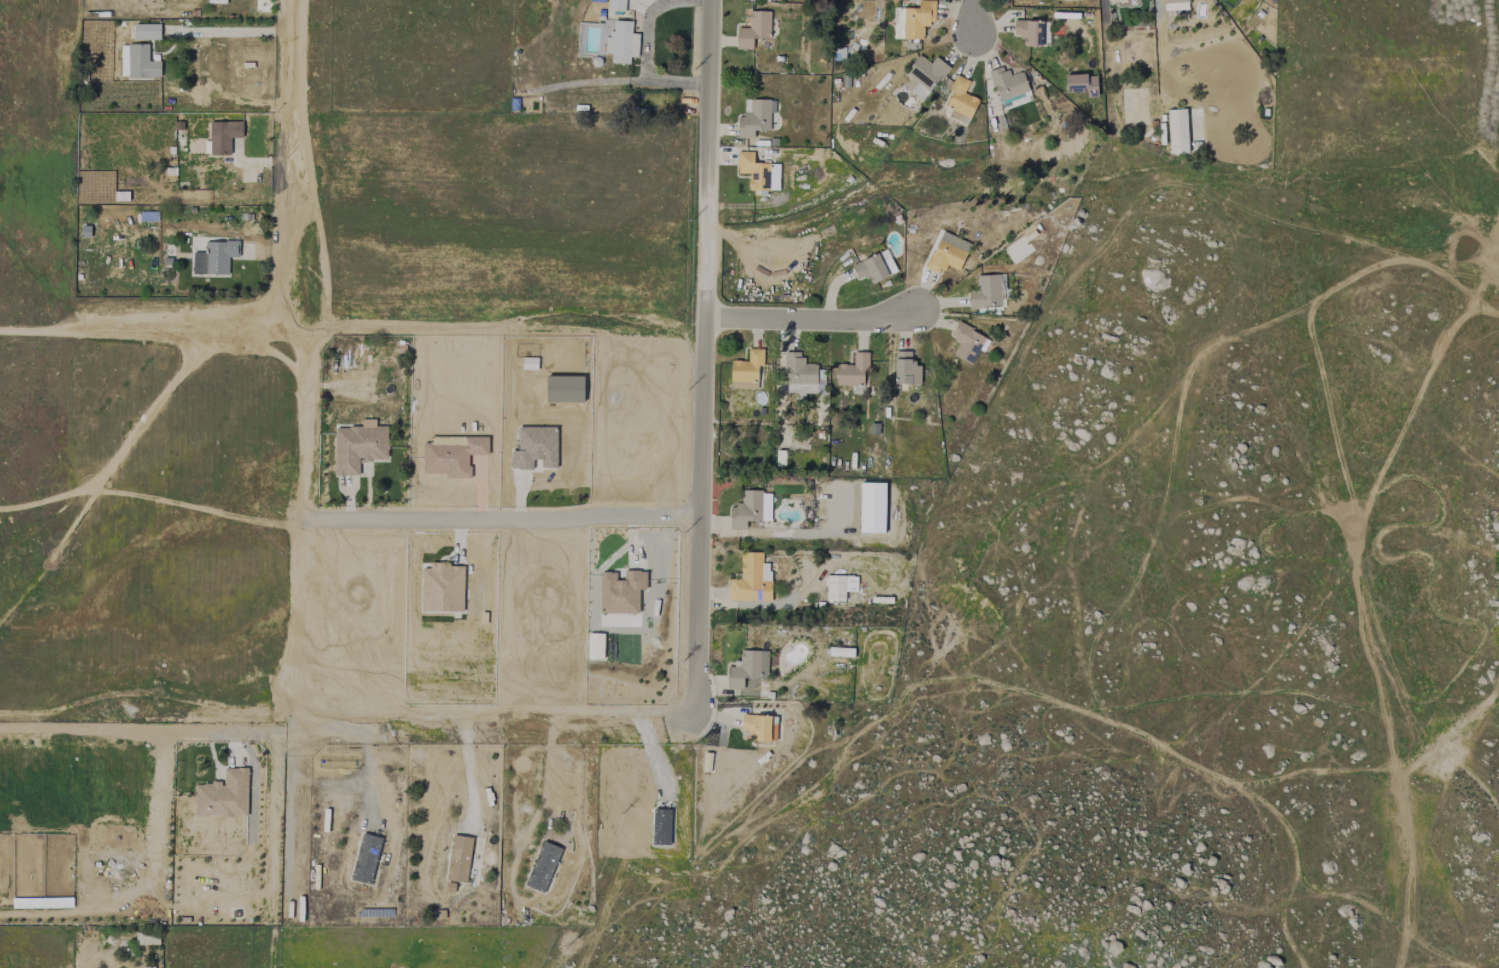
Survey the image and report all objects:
building: (615, 5)
building: (1174, 5)
road: (975, 18)
building: (913, 20)
building: (753, 29)
building: (146, 31)
road: (232, 31)
building: (1028, 32)
building: (621, 42)
road: (645, 56)
building: (137, 61)
building: (924, 75)
building: (1007, 83)
building: (1081, 84)
building: (960, 99)
building: (754, 117)
building: (1177, 131)
building: (223, 136)
road: (710, 158)
building: (758, 172)
building: (947, 253)
building: (219, 256)
road: (1488, 261)
building: (874, 267)
building: (985, 292)
road: (813, 318)
road: (354, 329)
building: (967, 343)
road: (304, 361)
building: (529, 363)
building: (746, 369)
building: (905, 369)
building: (852, 370)
building: (801, 375)
building: (564, 389)
building: (358, 446)
building: (534, 447)
building: (750, 509)
road: (500, 516)
road: (702, 528)
building: (751, 579)
building: (839, 586)
building: (620, 592)
building: (840, 651)
building: (747, 668)
road: (474, 720)
road: (143, 725)
building: (756, 726)
road: (286, 749)
road: (548, 766)
road: (471, 770)
road: (351, 781)
building: (223, 795)
building: (365, 858)
building: (458, 858)
building: (542, 866)
road: (279, 872)
building: (147, 938)

